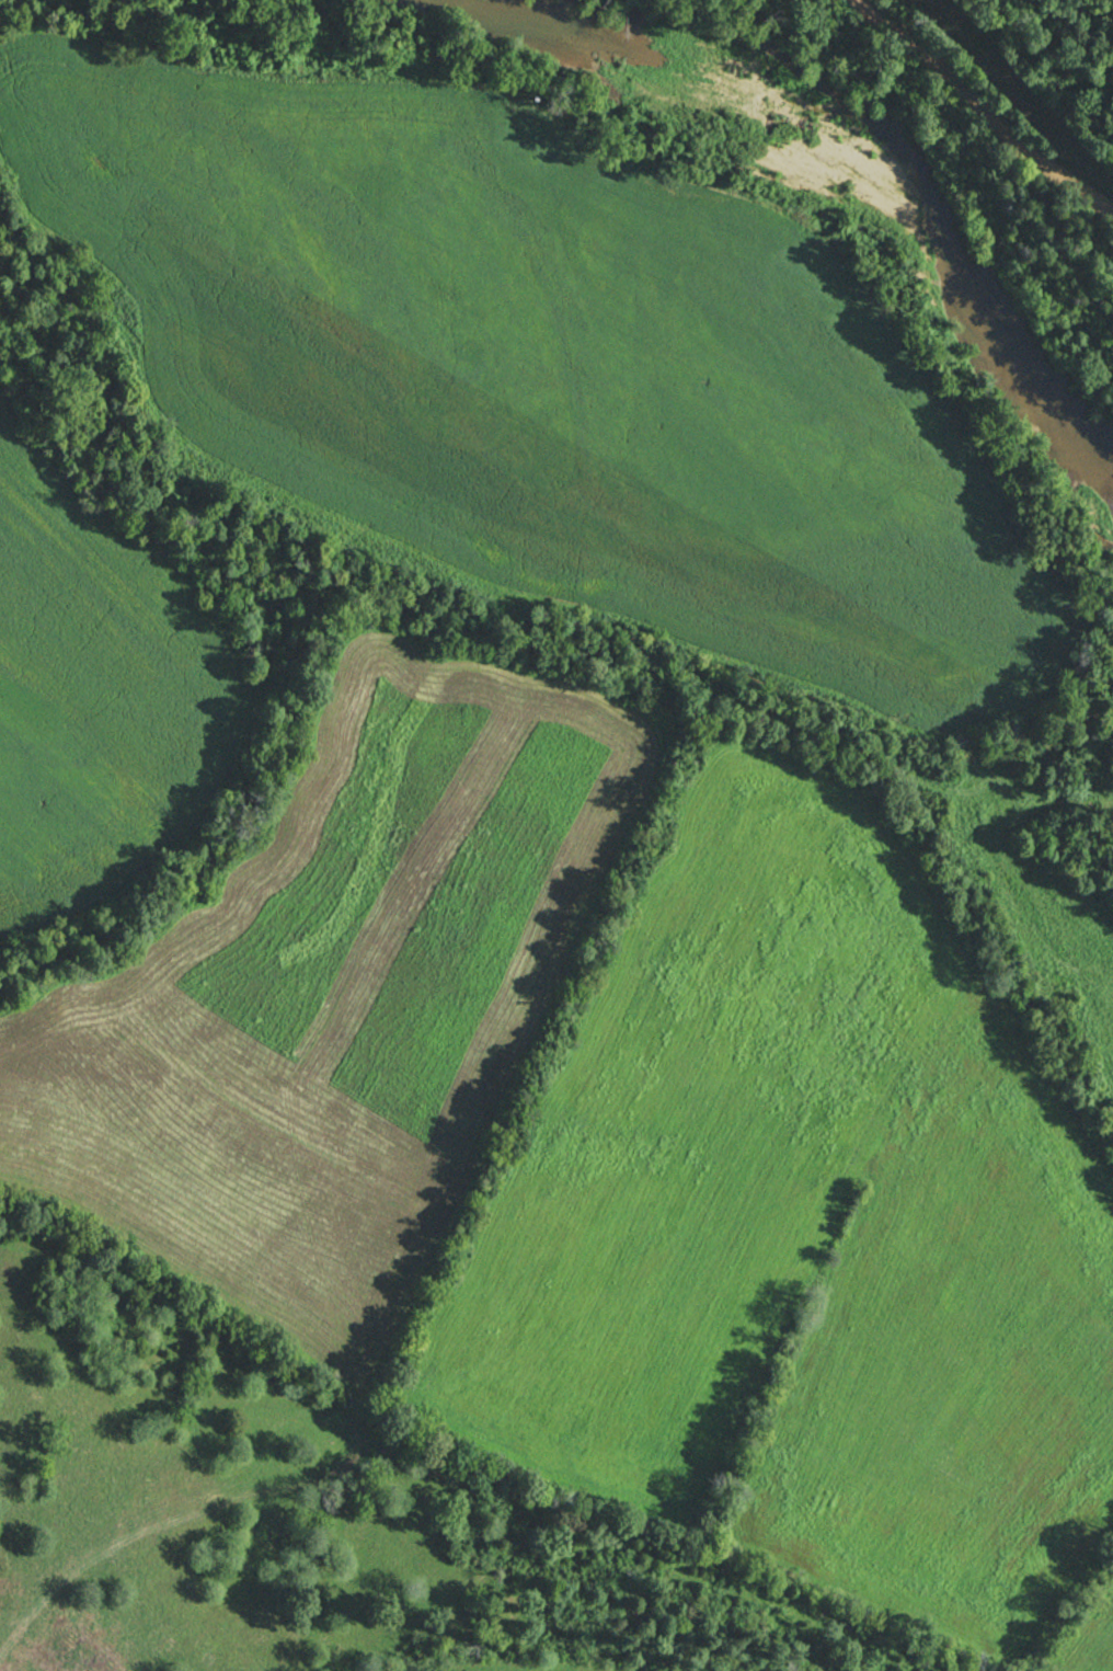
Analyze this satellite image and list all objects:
road: (979, 111)
river: (881, 162)

